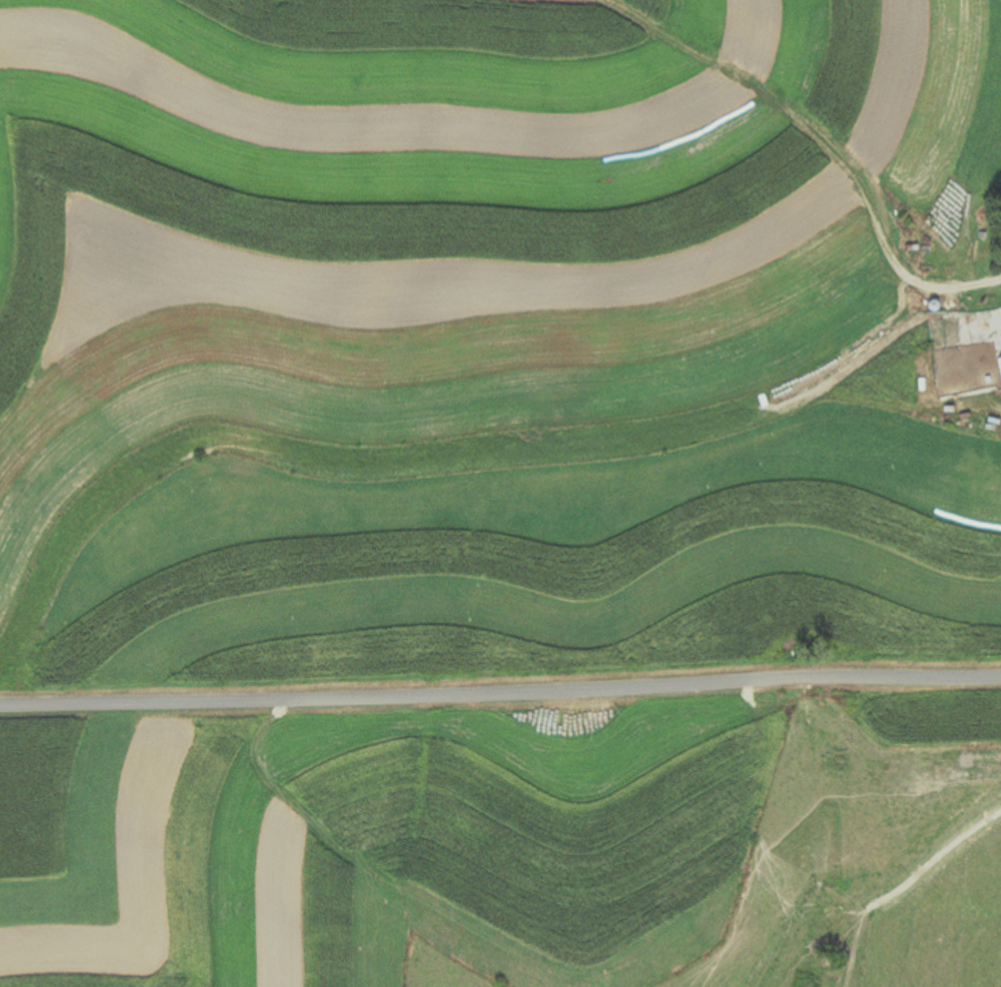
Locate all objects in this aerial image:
building: (998, 354)
road: (500, 691)

